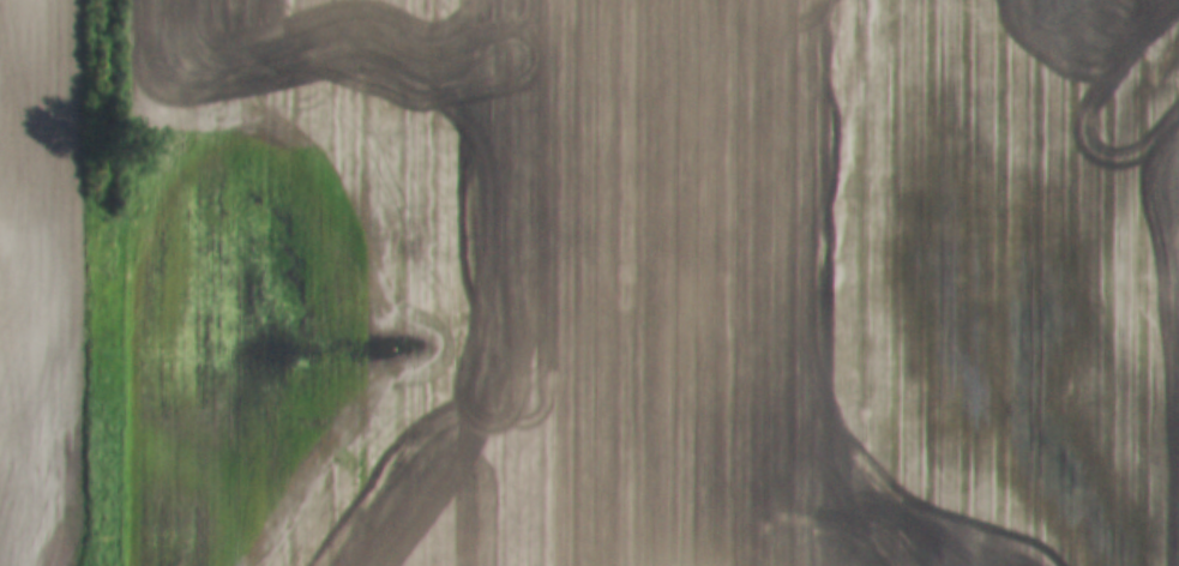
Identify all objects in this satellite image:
road: (104, 282)

